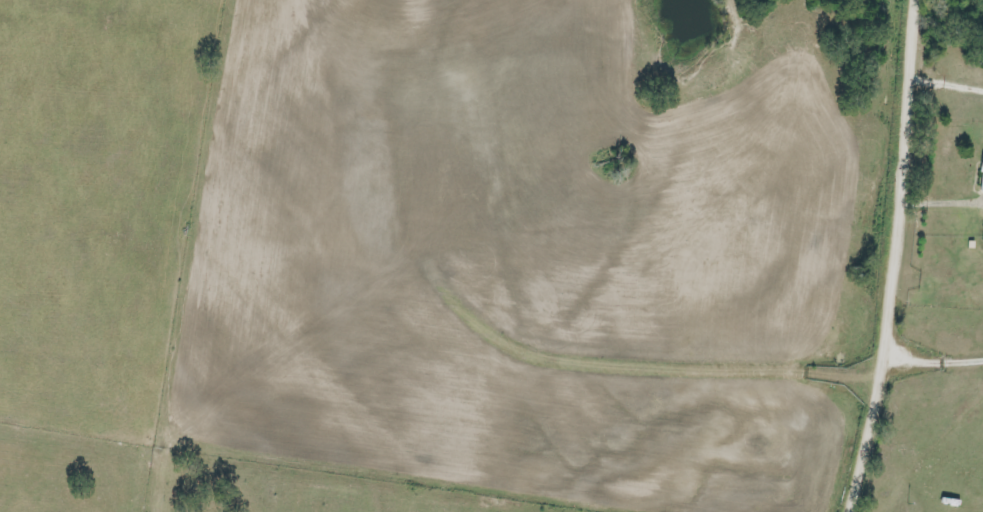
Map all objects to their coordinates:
building: (981, 181)
road: (903, 258)

